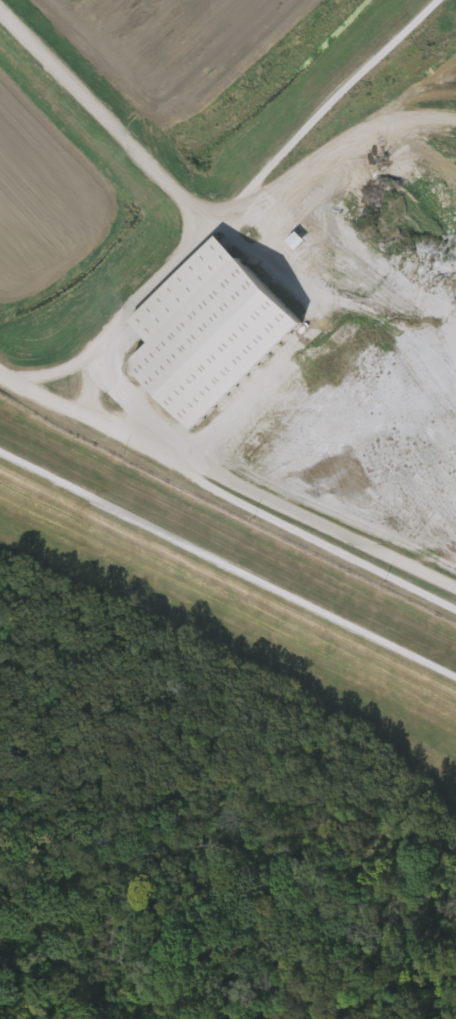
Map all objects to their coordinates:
road: (230, 208)
wastewater plant: (241, 311)
building: (215, 331)
road: (228, 568)

